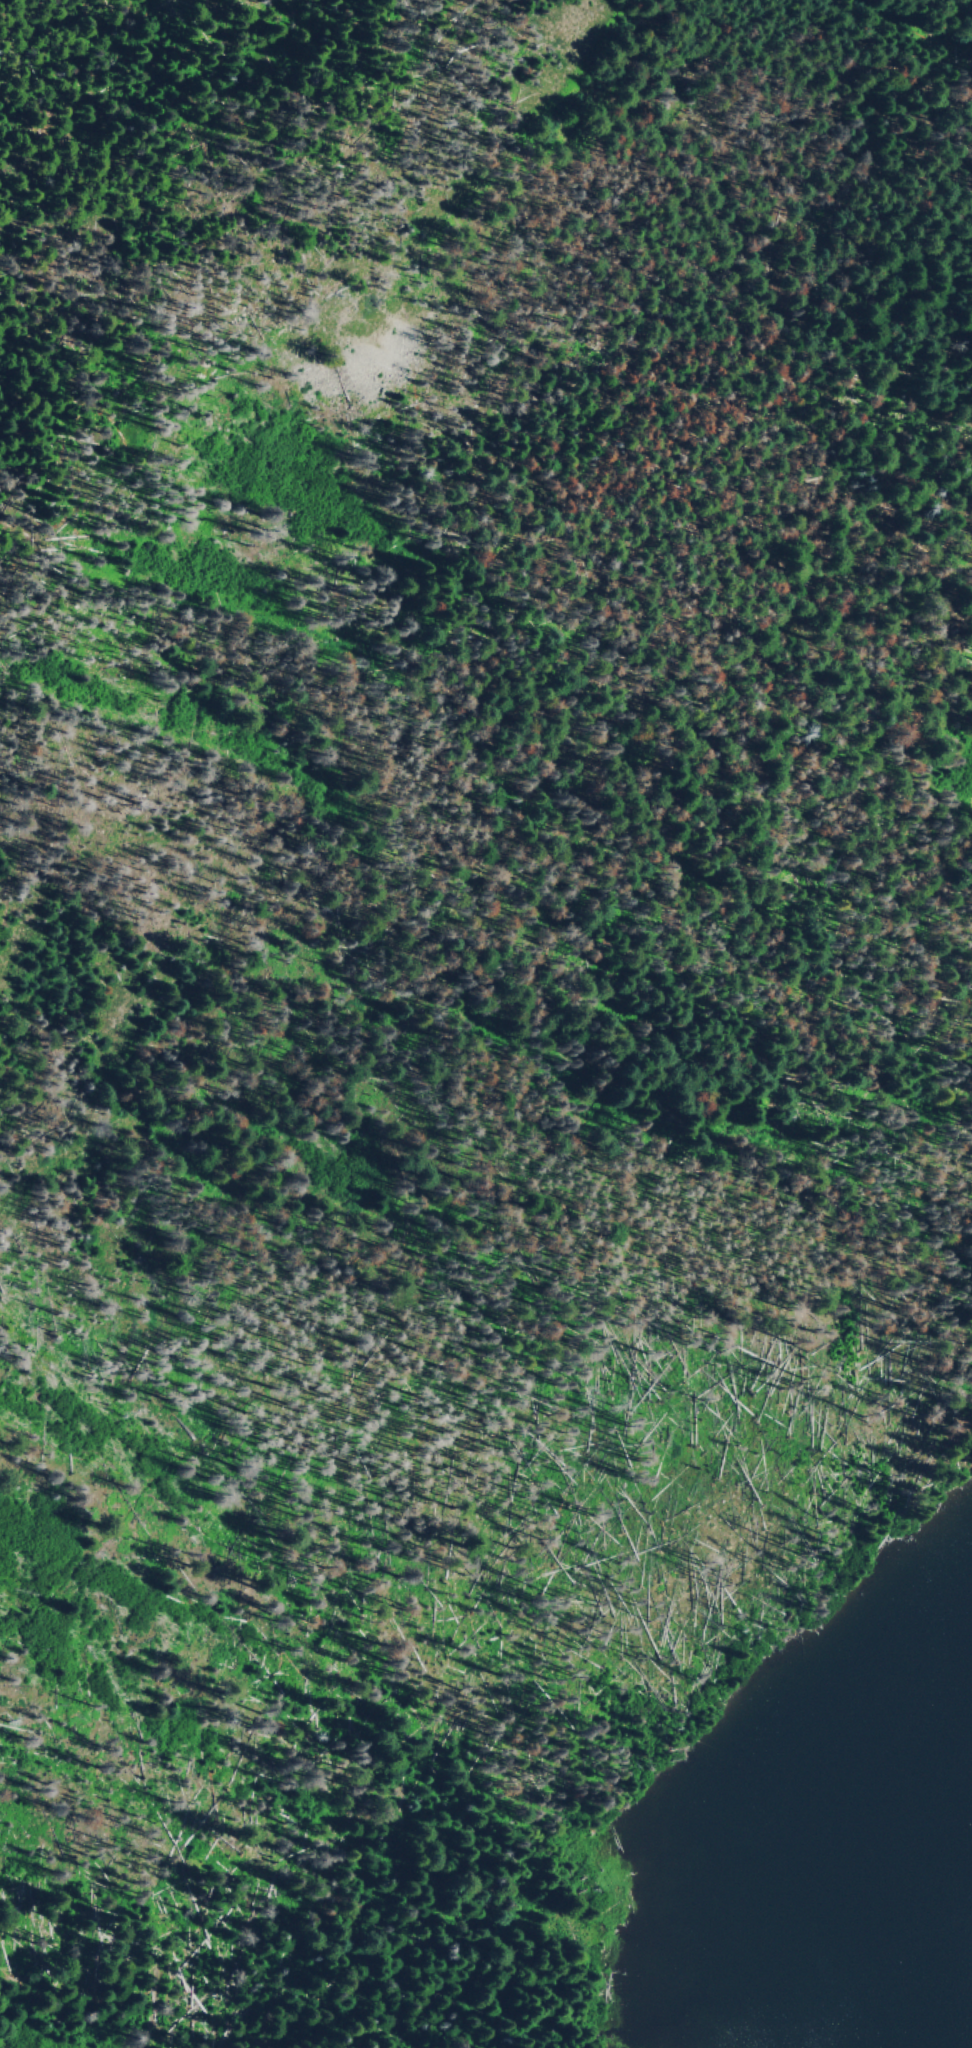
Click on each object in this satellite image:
road: (479, 1223)

